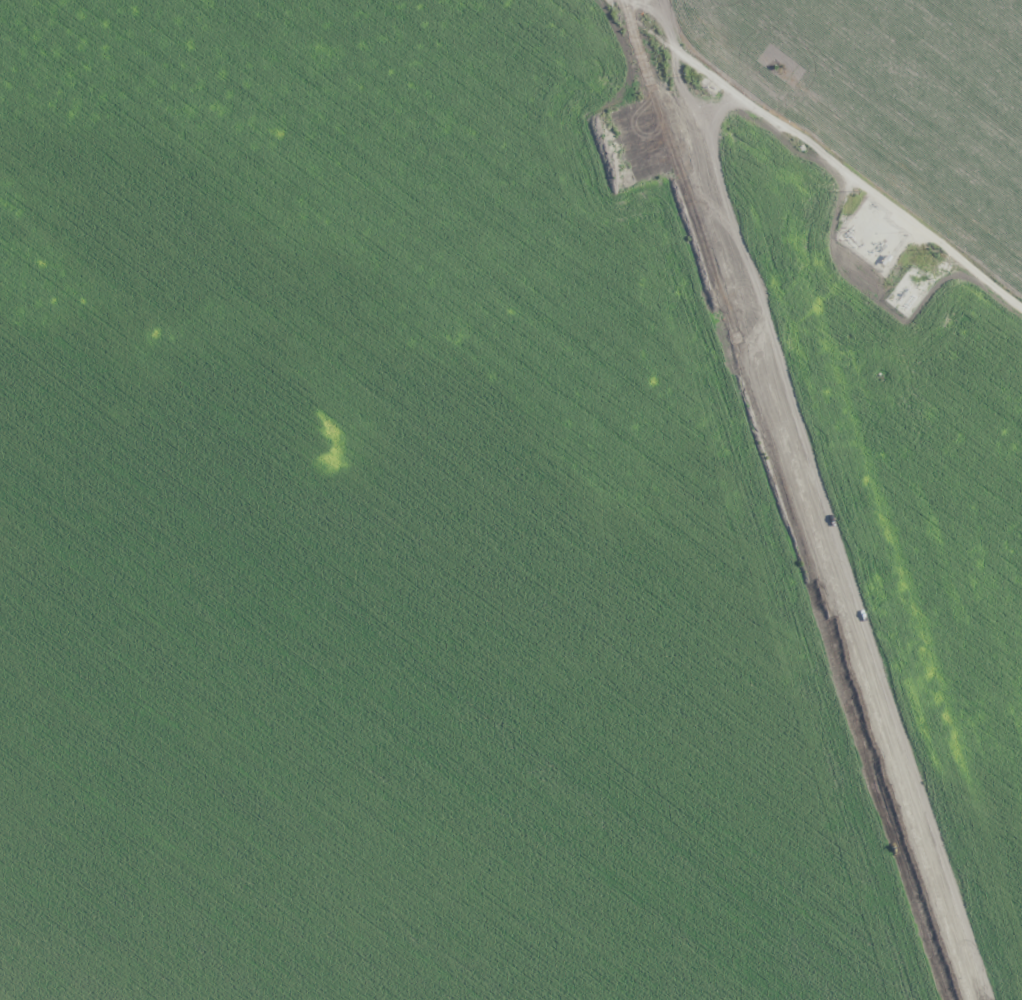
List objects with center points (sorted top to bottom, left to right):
crop: (511, 500)

